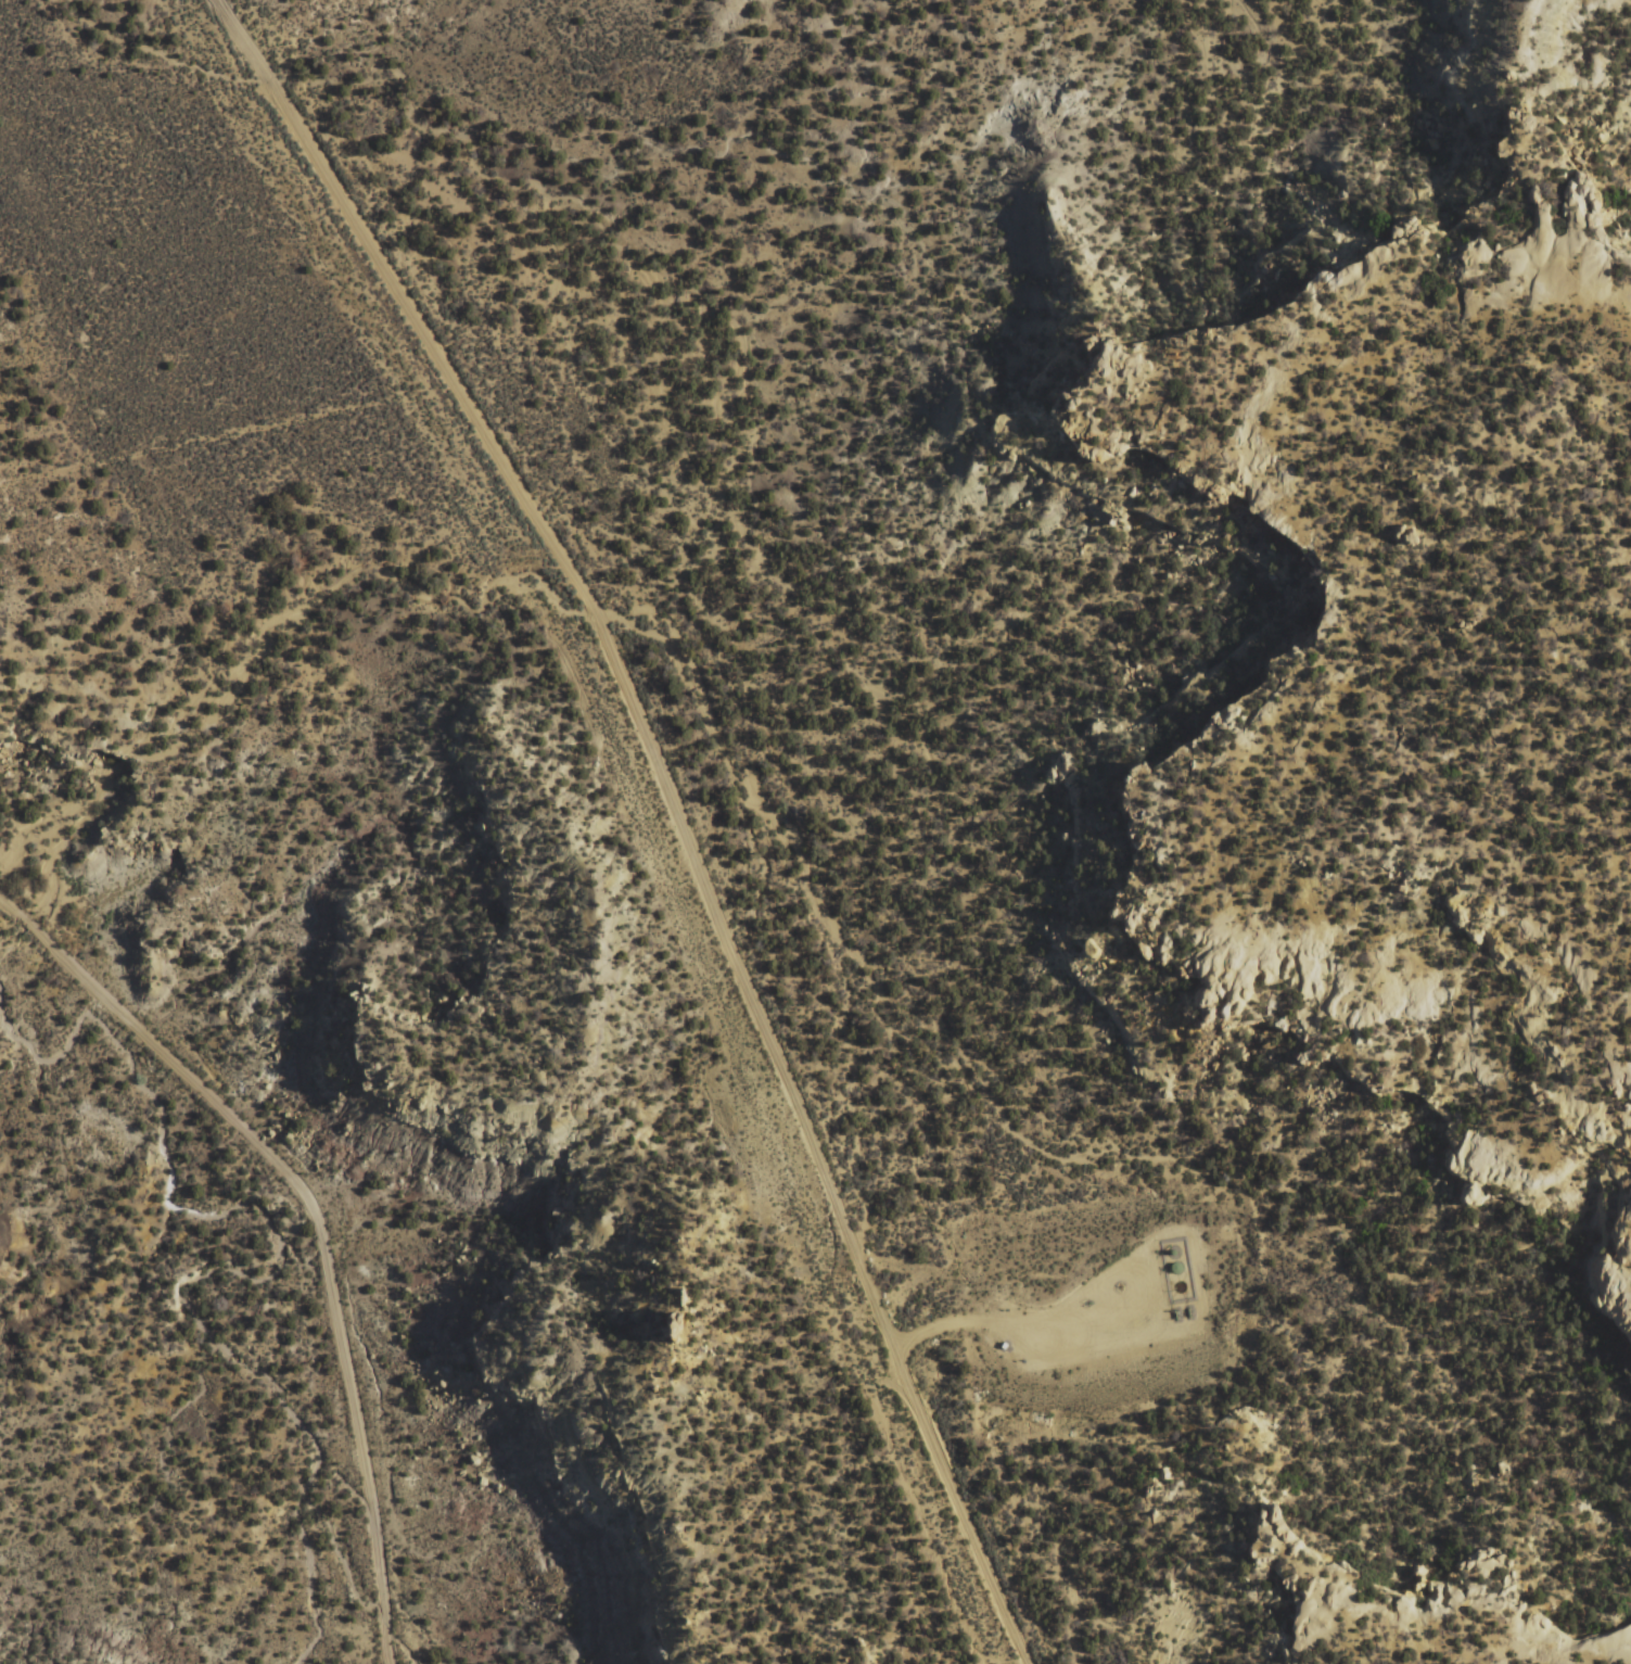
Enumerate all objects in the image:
road: (211, 471)
road: (623, 806)

